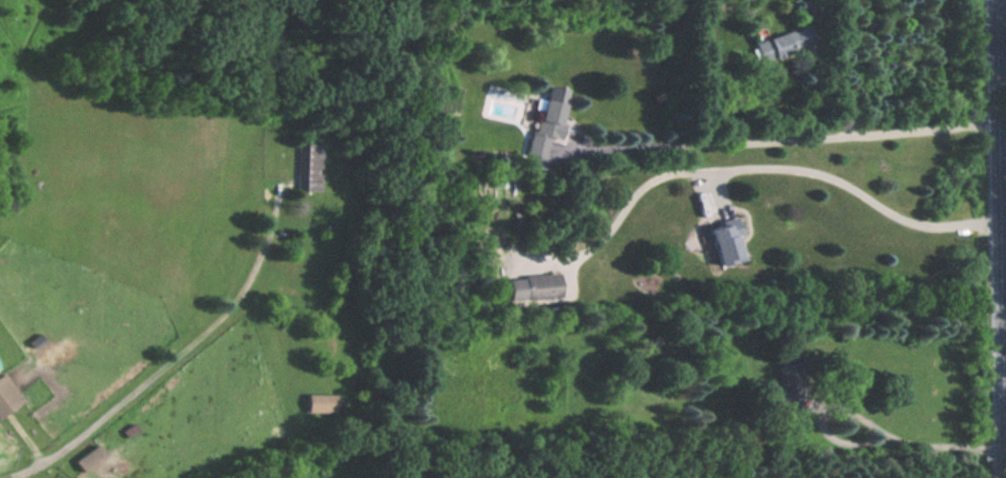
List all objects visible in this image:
building: (783, 43)
building: (549, 118)
road: (792, 140)
building: (309, 166)
road: (748, 168)
building: (497, 188)
road: (1001, 239)
building: (728, 240)
road: (1003, 258)
building: (535, 286)
road: (184, 366)
building: (7, 395)
building: (321, 403)
road: (924, 446)

